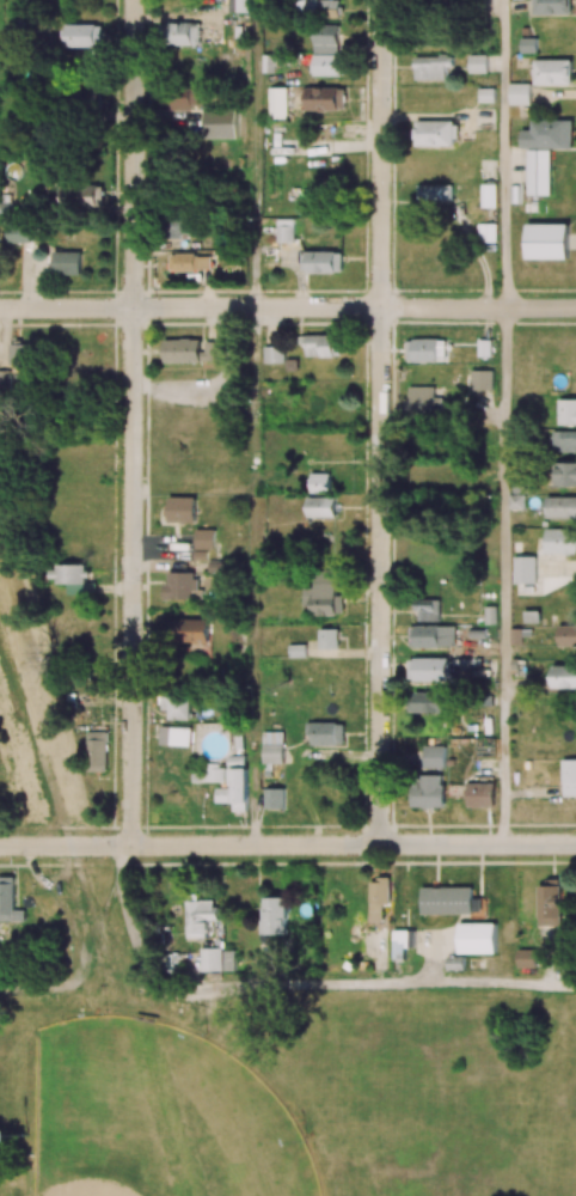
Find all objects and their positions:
building: (238, 6)
building: (323, 7)
building: (552, 7)
building: (180, 33)
building: (84, 35)
building: (326, 51)
building: (477, 63)
building: (431, 67)
building: (552, 72)
building: (520, 93)
building: (80, 97)
building: (325, 98)
building: (277, 102)
building: (204, 109)
building: (435, 133)
building: (547, 134)
road: (505, 153)
road: (255, 154)
building: (538, 172)
building: (434, 191)
building: (81, 195)
building: (489, 195)
building: (178, 228)
building: (284, 230)
building: (486, 232)
building: (20, 233)
building: (547, 240)
building: (189, 262)
building: (325, 262)
building: (66, 263)
road: (288, 307)
building: (323, 344)
building: (429, 349)
building: (190, 352)
building: (19, 353)
building: (274, 354)
building: (425, 401)
building: (566, 411)
road: (380, 422)
road: (131, 423)
building: (563, 440)
building: (565, 474)
building: (320, 495)
building: (516, 501)
building: (560, 507)
building: (182, 509)
building: (560, 541)
building: (204, 544)
building: (525, 569)
road: (504, 575)
building: (73, 579)
building: (180, 585)
building: (323, 594)
building: (427, 610)
building: (194, 634)
building: (431, 635)
building: (566, 635)
building: (329, 639)
building: (428, 669)
building: (564, 676)
building: (430, 702)
building: (174, 706)
building: (327, 733)
building: (174, 736)
building: (272, 746)
building: (96, 751)
building: (434, 756)
building: (235, 761)
building: (206, 773)
building: (569, 777)
building: (235, 791)
building: (428, 791)
building: (480, 795)
building: (274, 798)
road: (288, 846)
building: (405, 893)
building: (379, 897)
building: (8, 901)
building: (449, 901)
building: (549, 905)
building: (274, 915)
road: (131, 916)
building: (198, 917)
building: (477, 938)
building: (400, 945)
building: (210, 959)
building: (526, 959)
building: (229, 960)
building: (455, 963)
road: (74, 987)
road: (362, 987)
park: (275, 1078)
road: (165, 1092)
park: (100, 1171)

